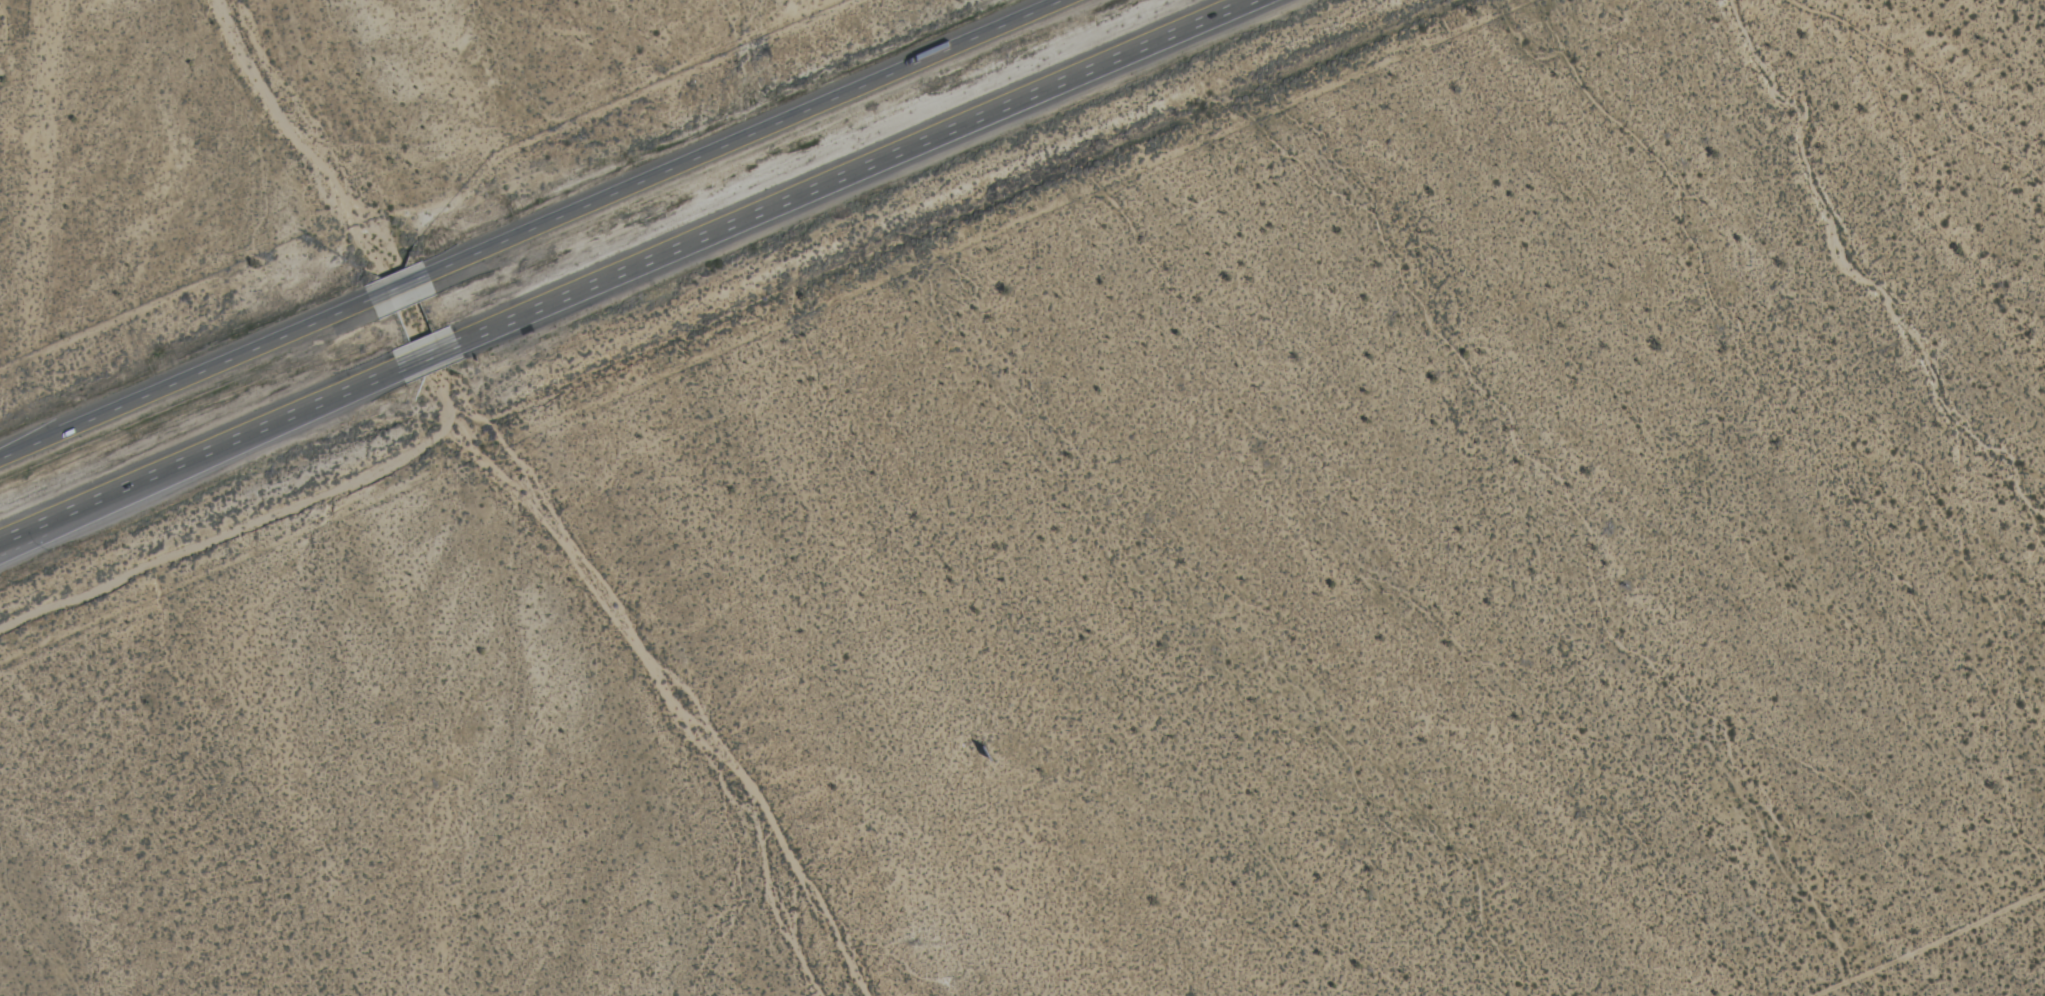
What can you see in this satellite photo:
road: (744, 137)
road: (852, 172)
railway: (580, 252)
road: (398, 288)
road: (428, 358)
road: (185, 381)
road: (199, 457)
road: (11, 540)

